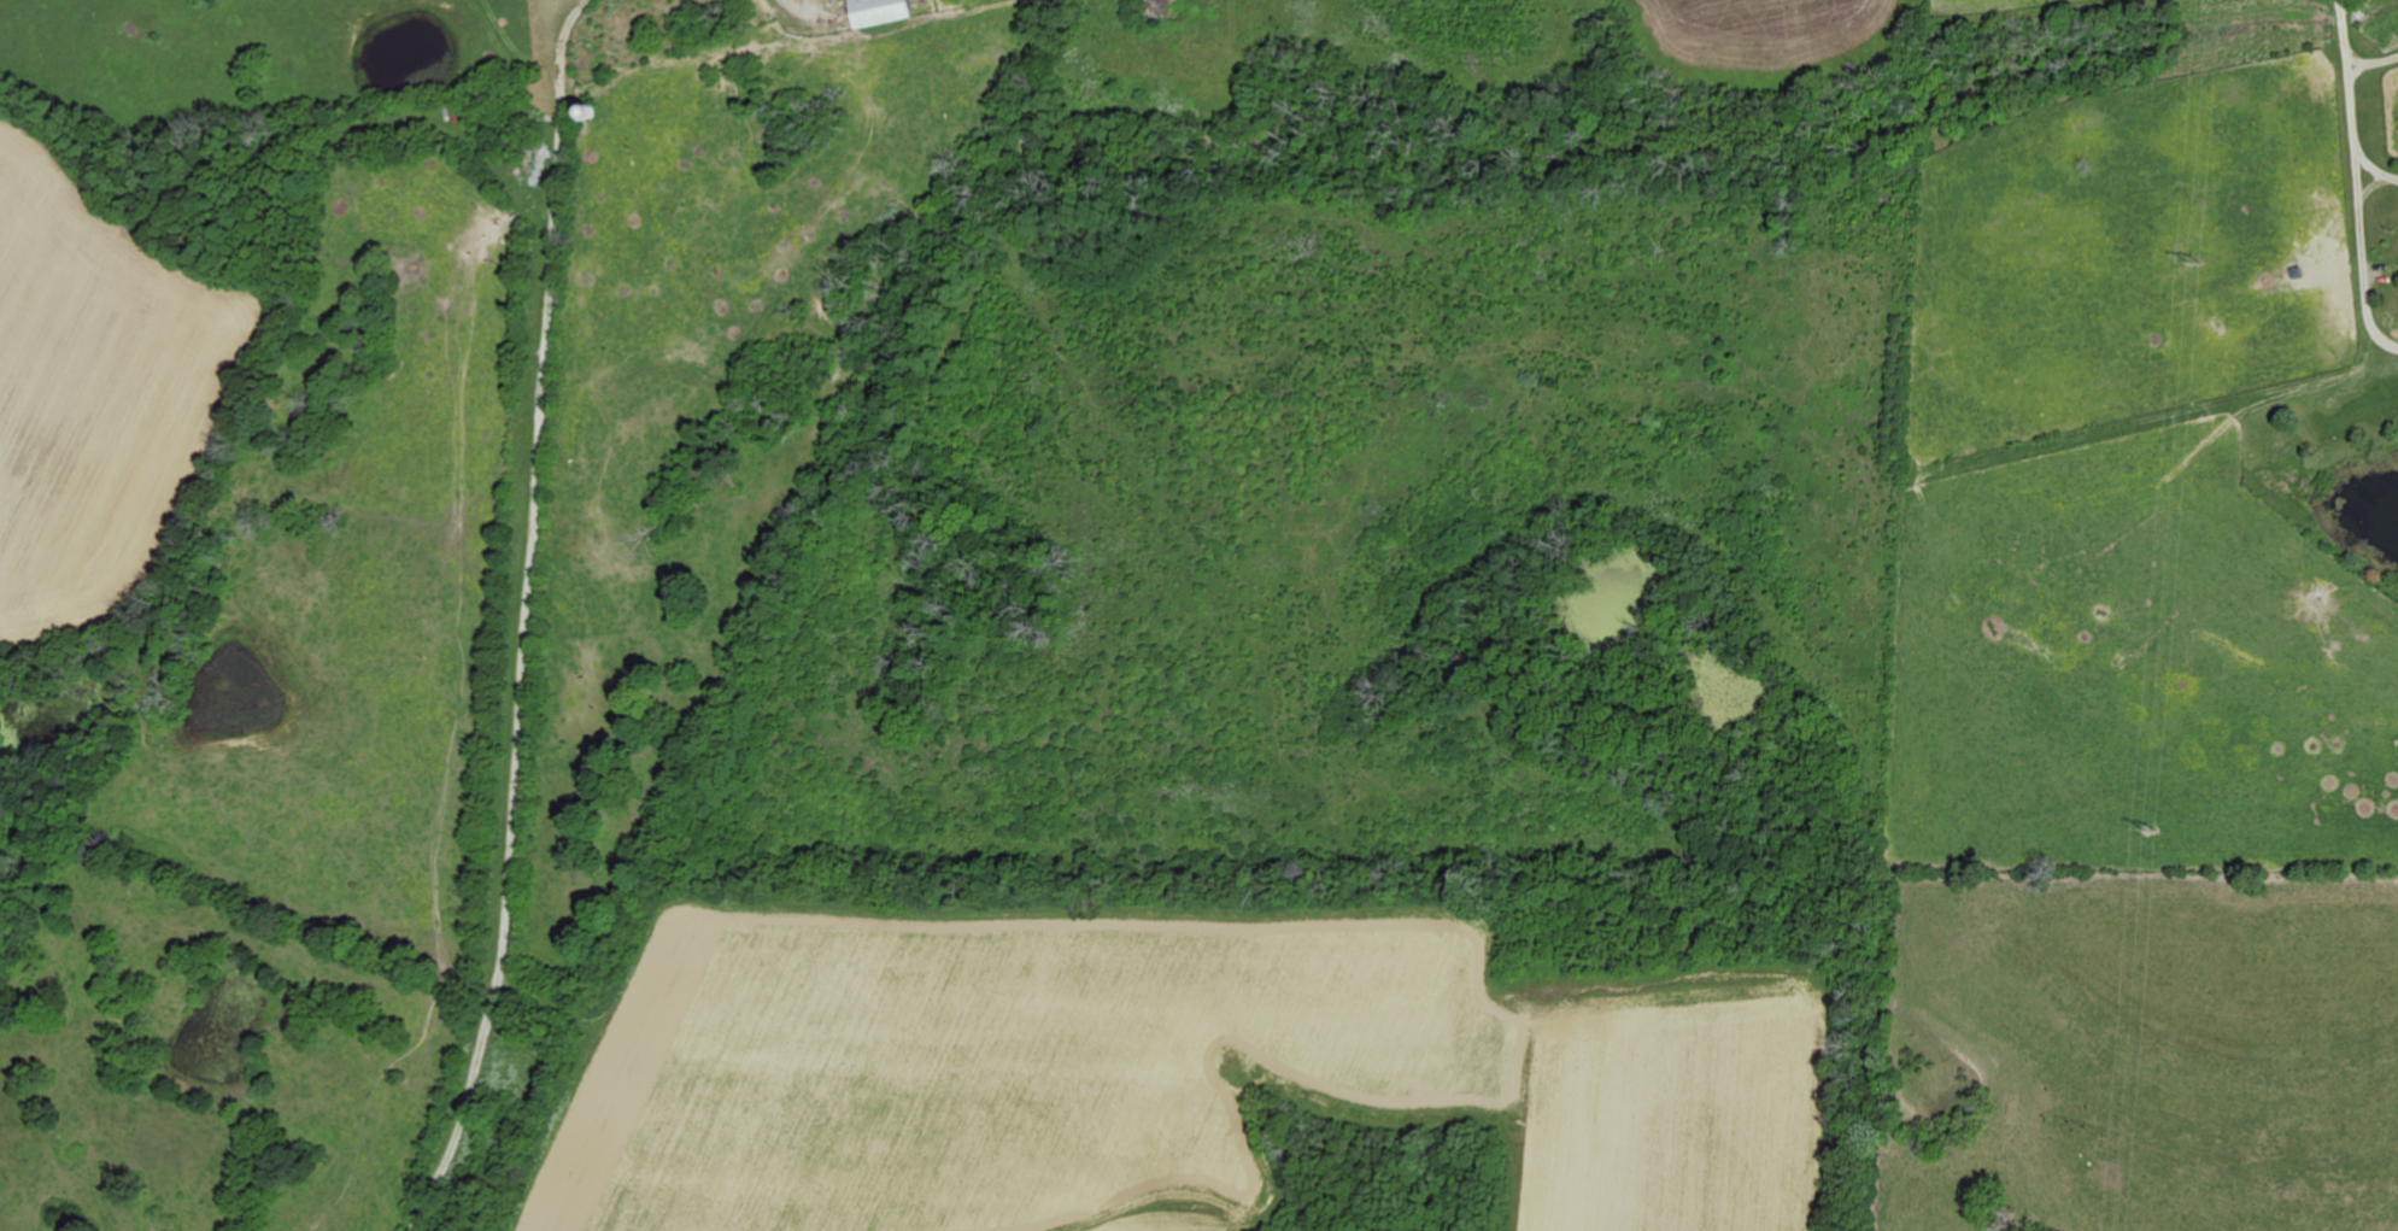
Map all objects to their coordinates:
building: (890, 11)
road: (2363, 37)
road: (2365, 107)

